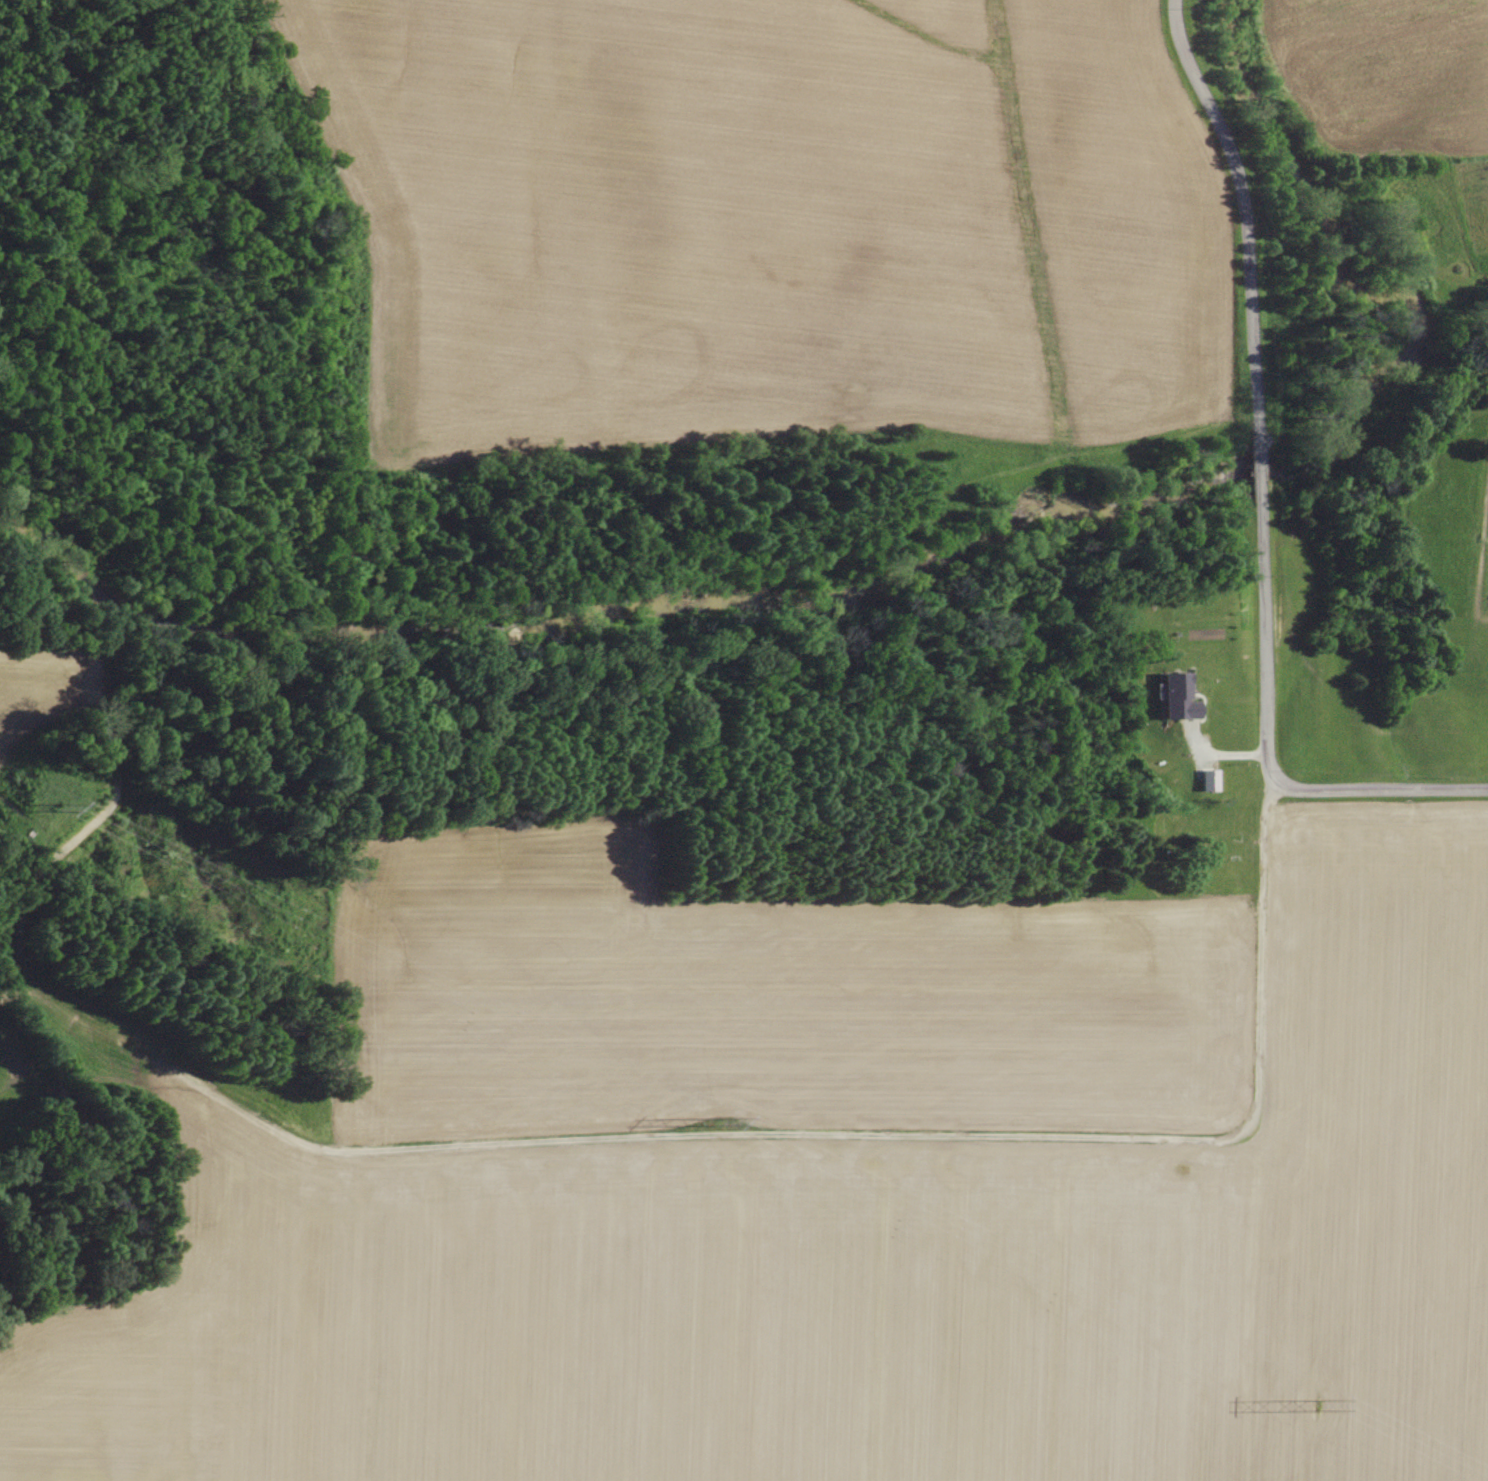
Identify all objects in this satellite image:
road: (1241, 226)
road: (1260, 473)
building: (1178, 697)
road: (1267, 739)
building: (1210, 781)
power tower: (88, 811)
power tower: (726, 1117)
road: (639, 1139)
power tower: (1322, 1404)

